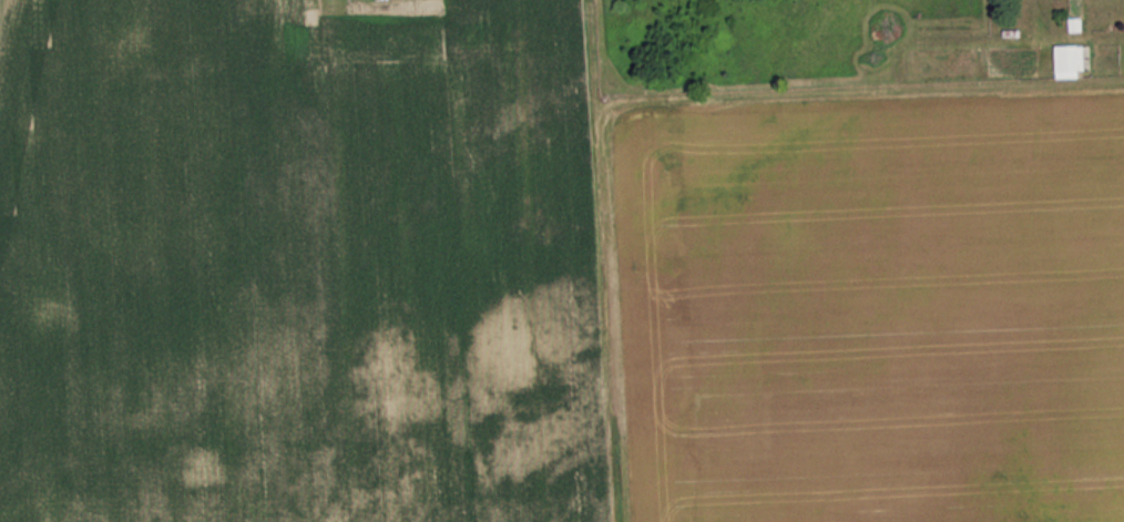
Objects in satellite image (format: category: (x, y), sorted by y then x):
building: (1067, 59)

